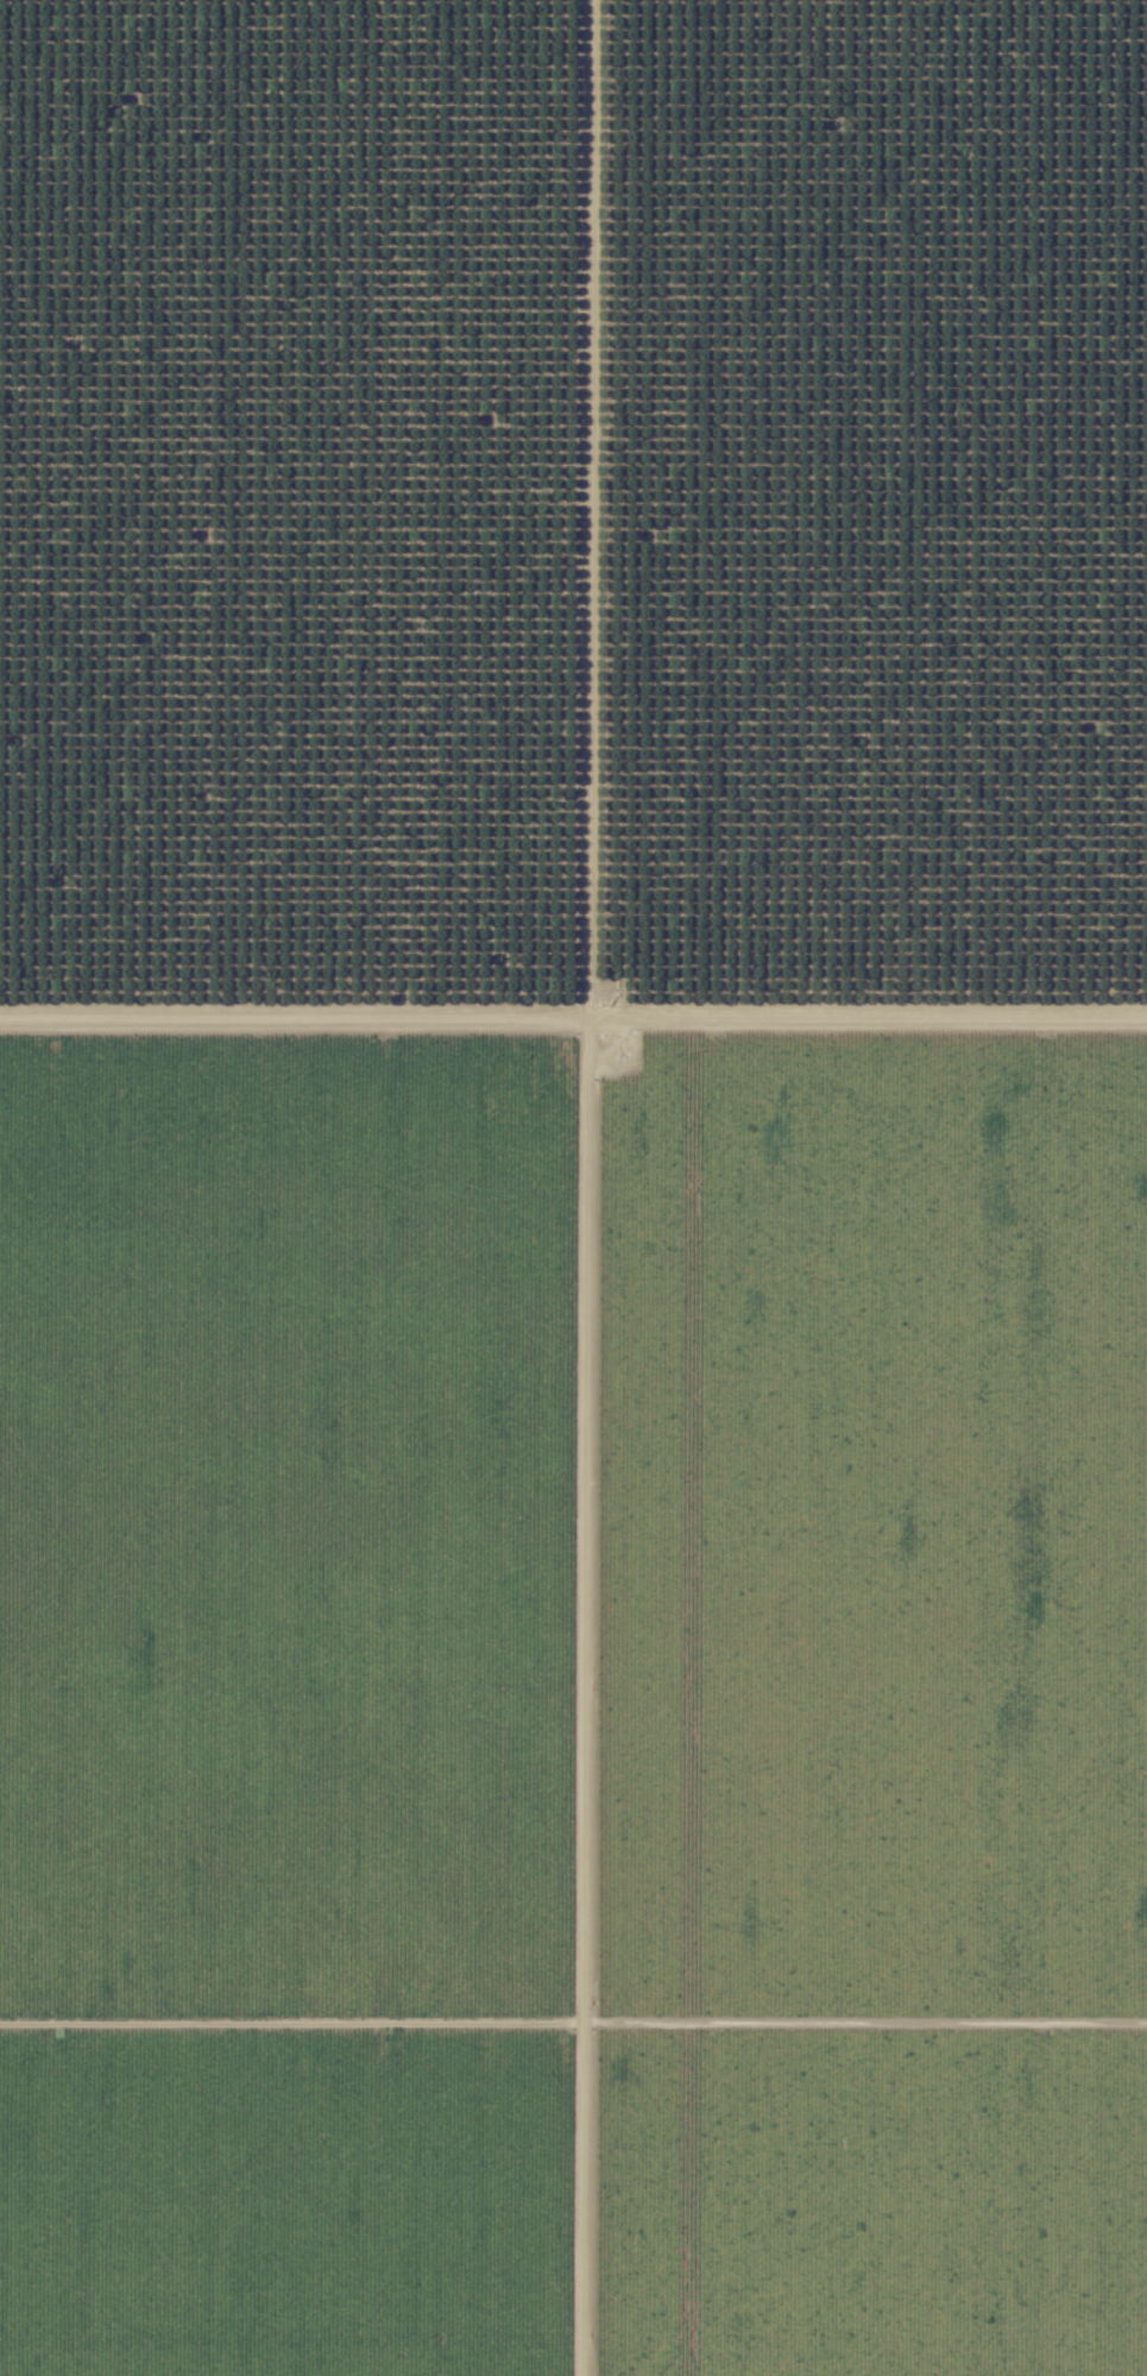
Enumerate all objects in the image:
road: (573, 1017)
road: (584, 1187)
crop: (295, 1709)
crop: (869, 1710)

